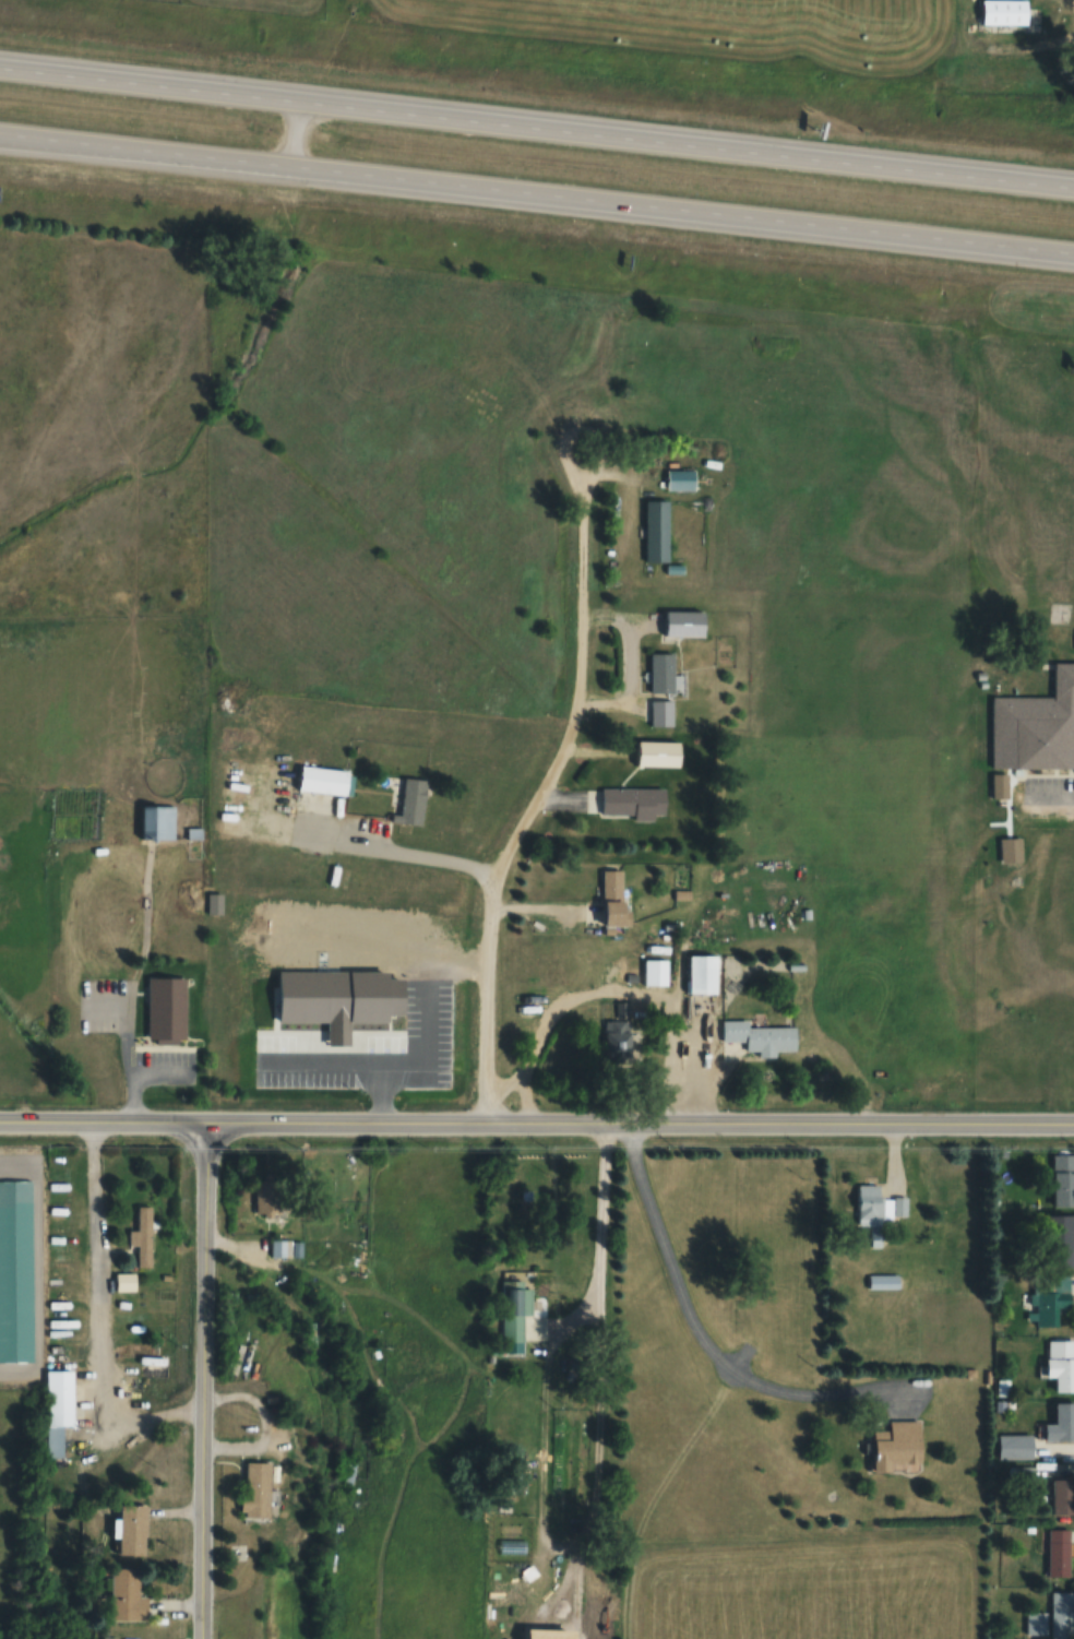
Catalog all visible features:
building: (1000, 12)
road: (537, 130)
road: (537, 198)
building: (656, 531)
building: (684, 623)
road: (578, 637)
building: (661, 672)
building: (660, 713)
building: (1036, 726)
building: (658, 752)
building: (324, 780)
building: (413, 800)
building: (634, 801)
building: (157, 821)
building: (614, 896)
building: (213, 903)
building: (112, 921)
road: (448, 961)
building: (656, 972)
building: (336, 995)
road: (100, 1003)
building: (167, 1008)
road: (484, 1029)
building: (617, 1035)
building: (760, 1036)
road: (129, 1062)
road: (383, 1062)
road: (162, 1067)
road: (379, 1093)
road: (649, 1120)
road: (897, 1121)
road: (399, 1123)
road: (1026, 1123)
road: (100, 1124)
road: (259, 1124)
building: (1063, 1180)
building: (268, 1197)
building: (876, 1208)
building: (1060, 1232)
building: (143, 1237)
building: (279, 1247)
road: (37, 1266)
building: (14, 1270)
building: (126, 1282)
building: (882, 1282)
building: (1050, 1298)
building: (512, 1310)
road: (93, 1316)
road: (694, 1331)
road: (558, 1334)
building: (1061, 1363)
road: (201, 1369)
building: (58, 1409)
building: (1061, 1423)
building: (895, 1446)
building: (1015, 1447)
building: (259, 1489)
building: (1062, 1496)
building: (133, 1529)
building: (1059, 1553)
crop: (802, 1589)
building: (509, 1593)
building: (128, 1596)
building: (1062, 1615)
building: (1036, 1624)
road: (199, 1627)

